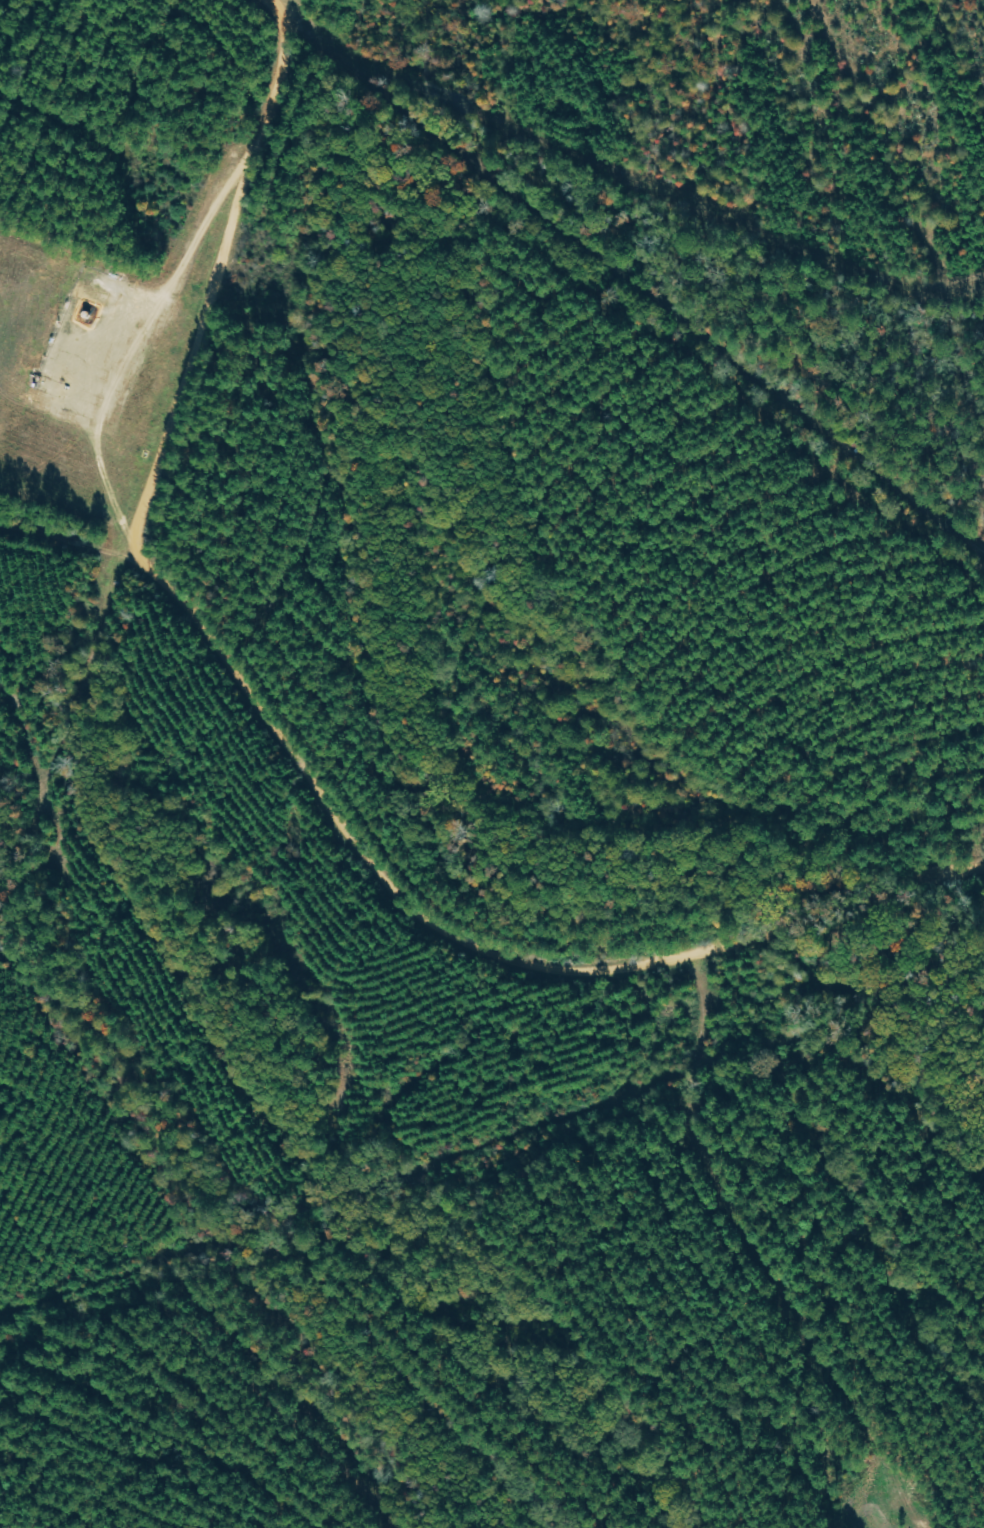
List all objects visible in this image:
road: (226, 251)
road: (419, 871)

